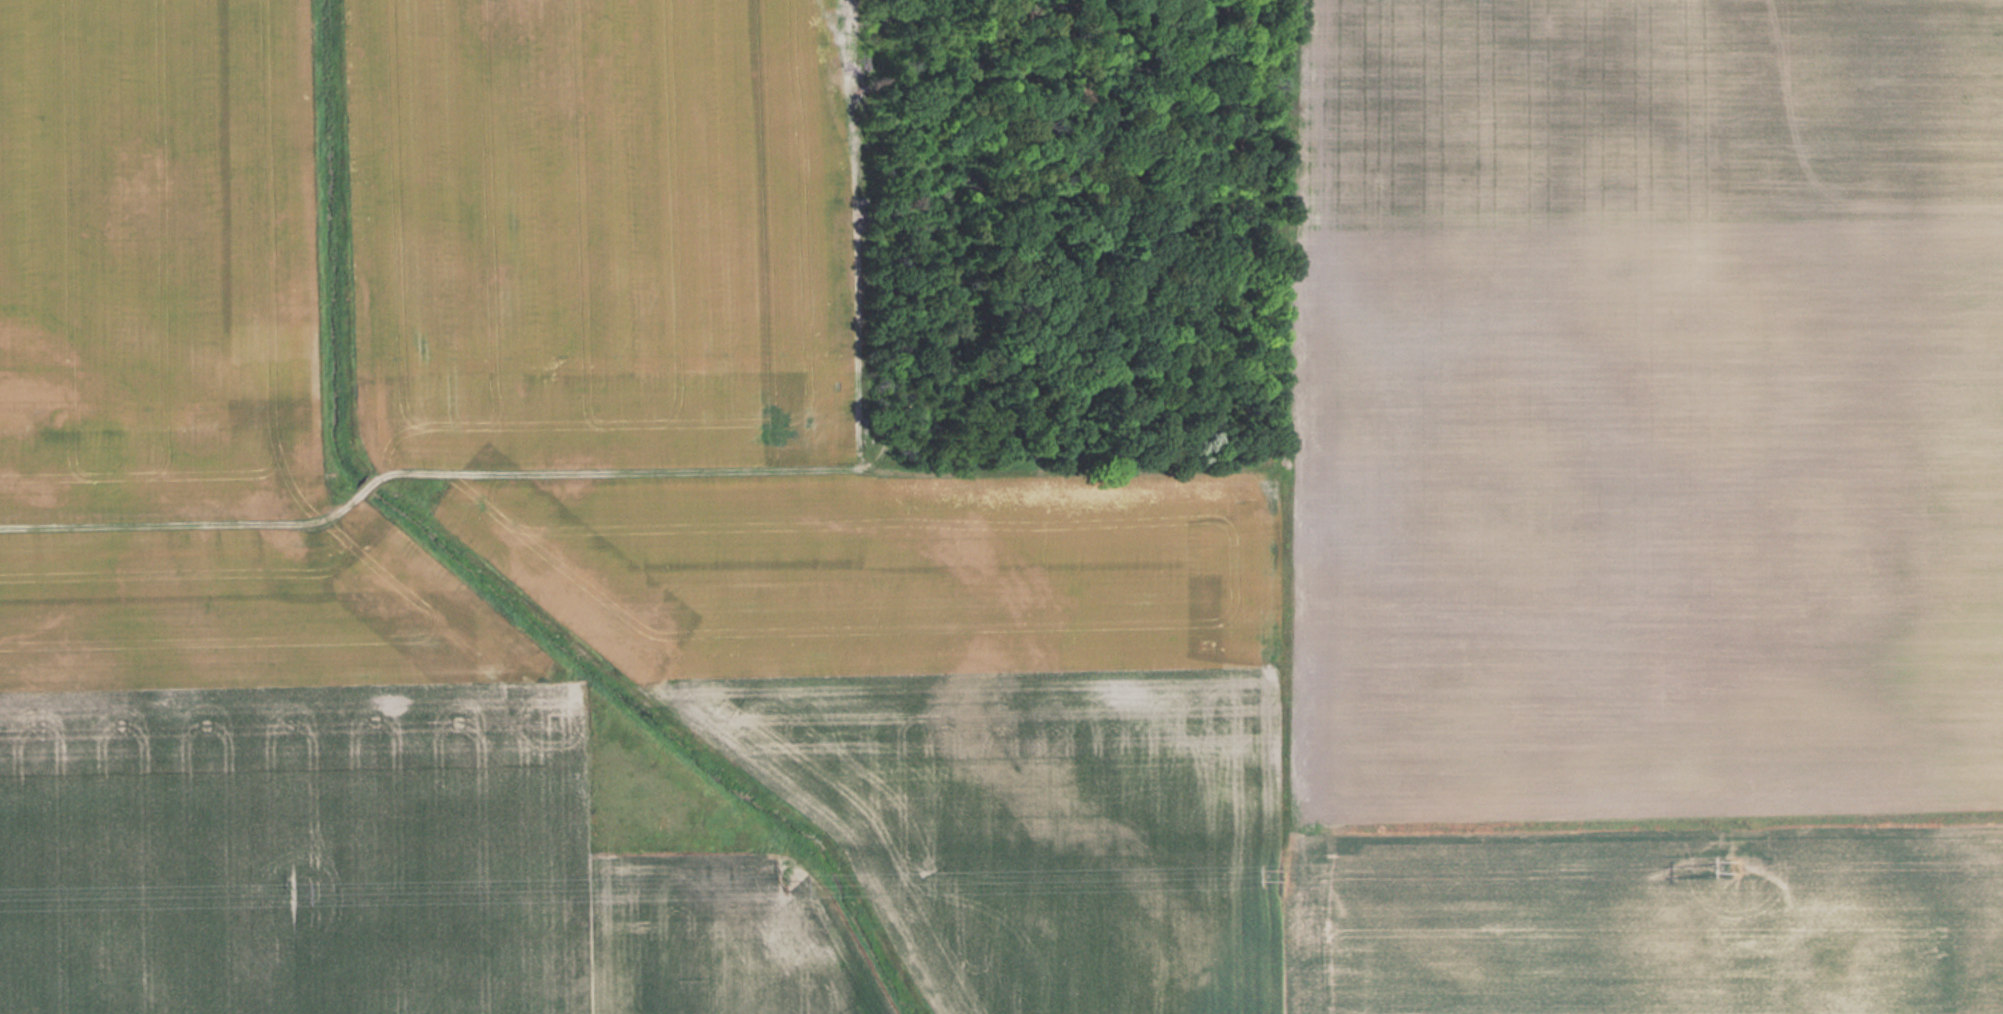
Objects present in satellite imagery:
power tower: (1744, 870)
power tower: (1295, 877)
power tower: (792, 886)
power tower: (298, 895)

